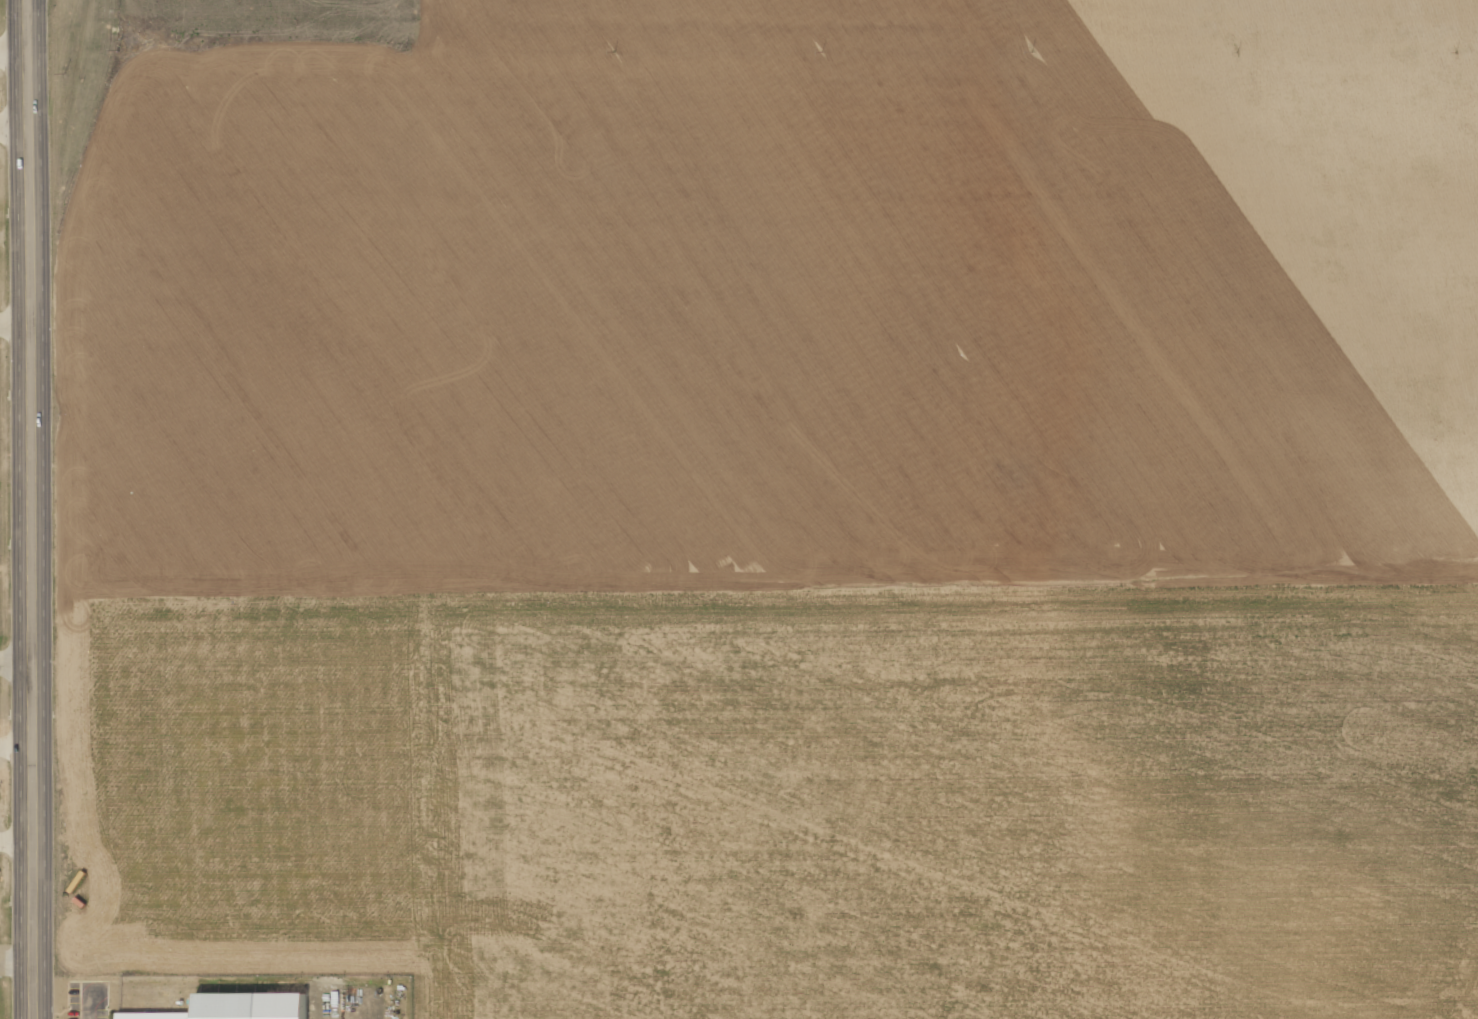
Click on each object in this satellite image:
road: (26, 509)
building: (236, 1007)

